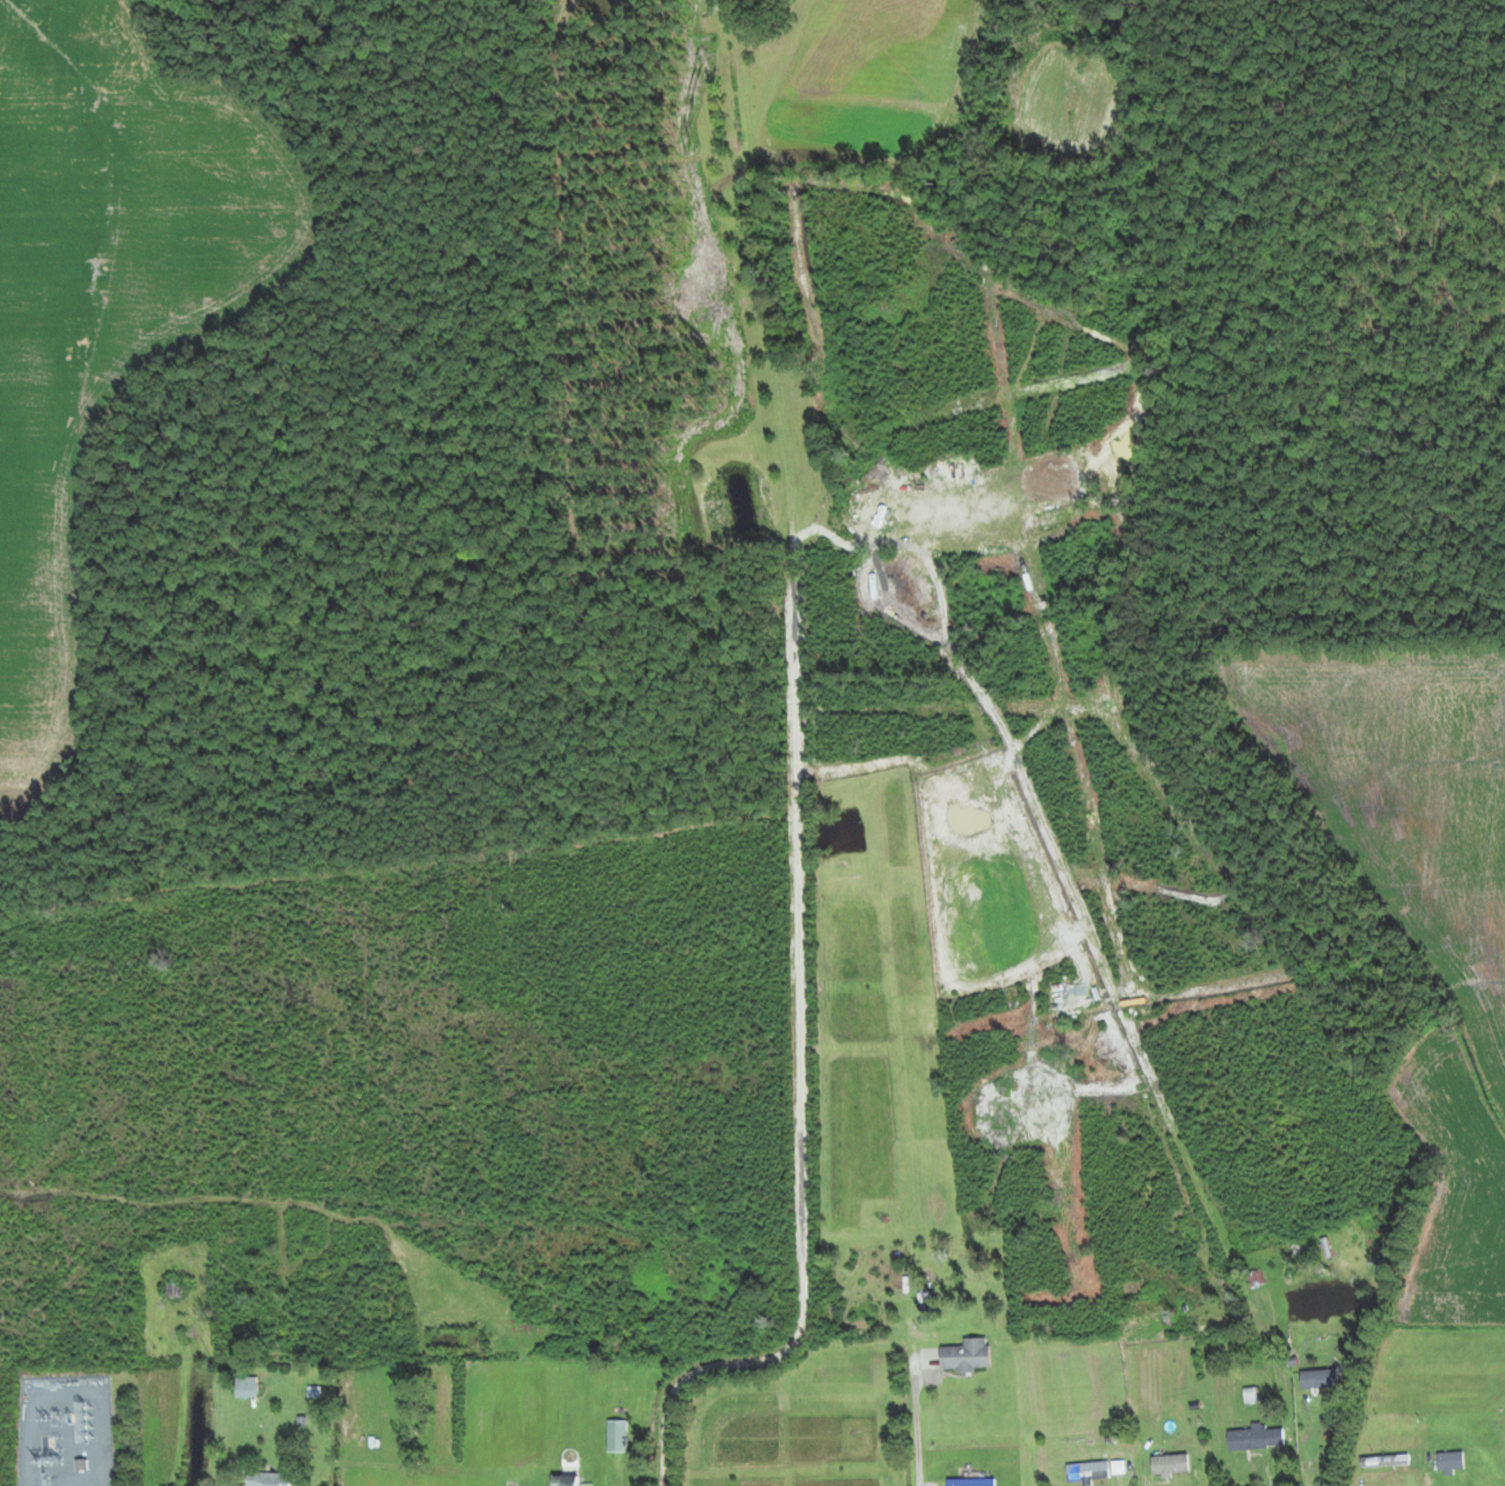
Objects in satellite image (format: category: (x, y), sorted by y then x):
building: (175, 1288)
building: (970, 1354)
building: (248, 1386)
power substation: (66, 1432)
building: (1256, 1437)
building: (1450, 1460)
building: (81, 1463)
building: (1087, 1470)
building: (271, 1479)
building: (573, 1480)
building: (974, 1482)

